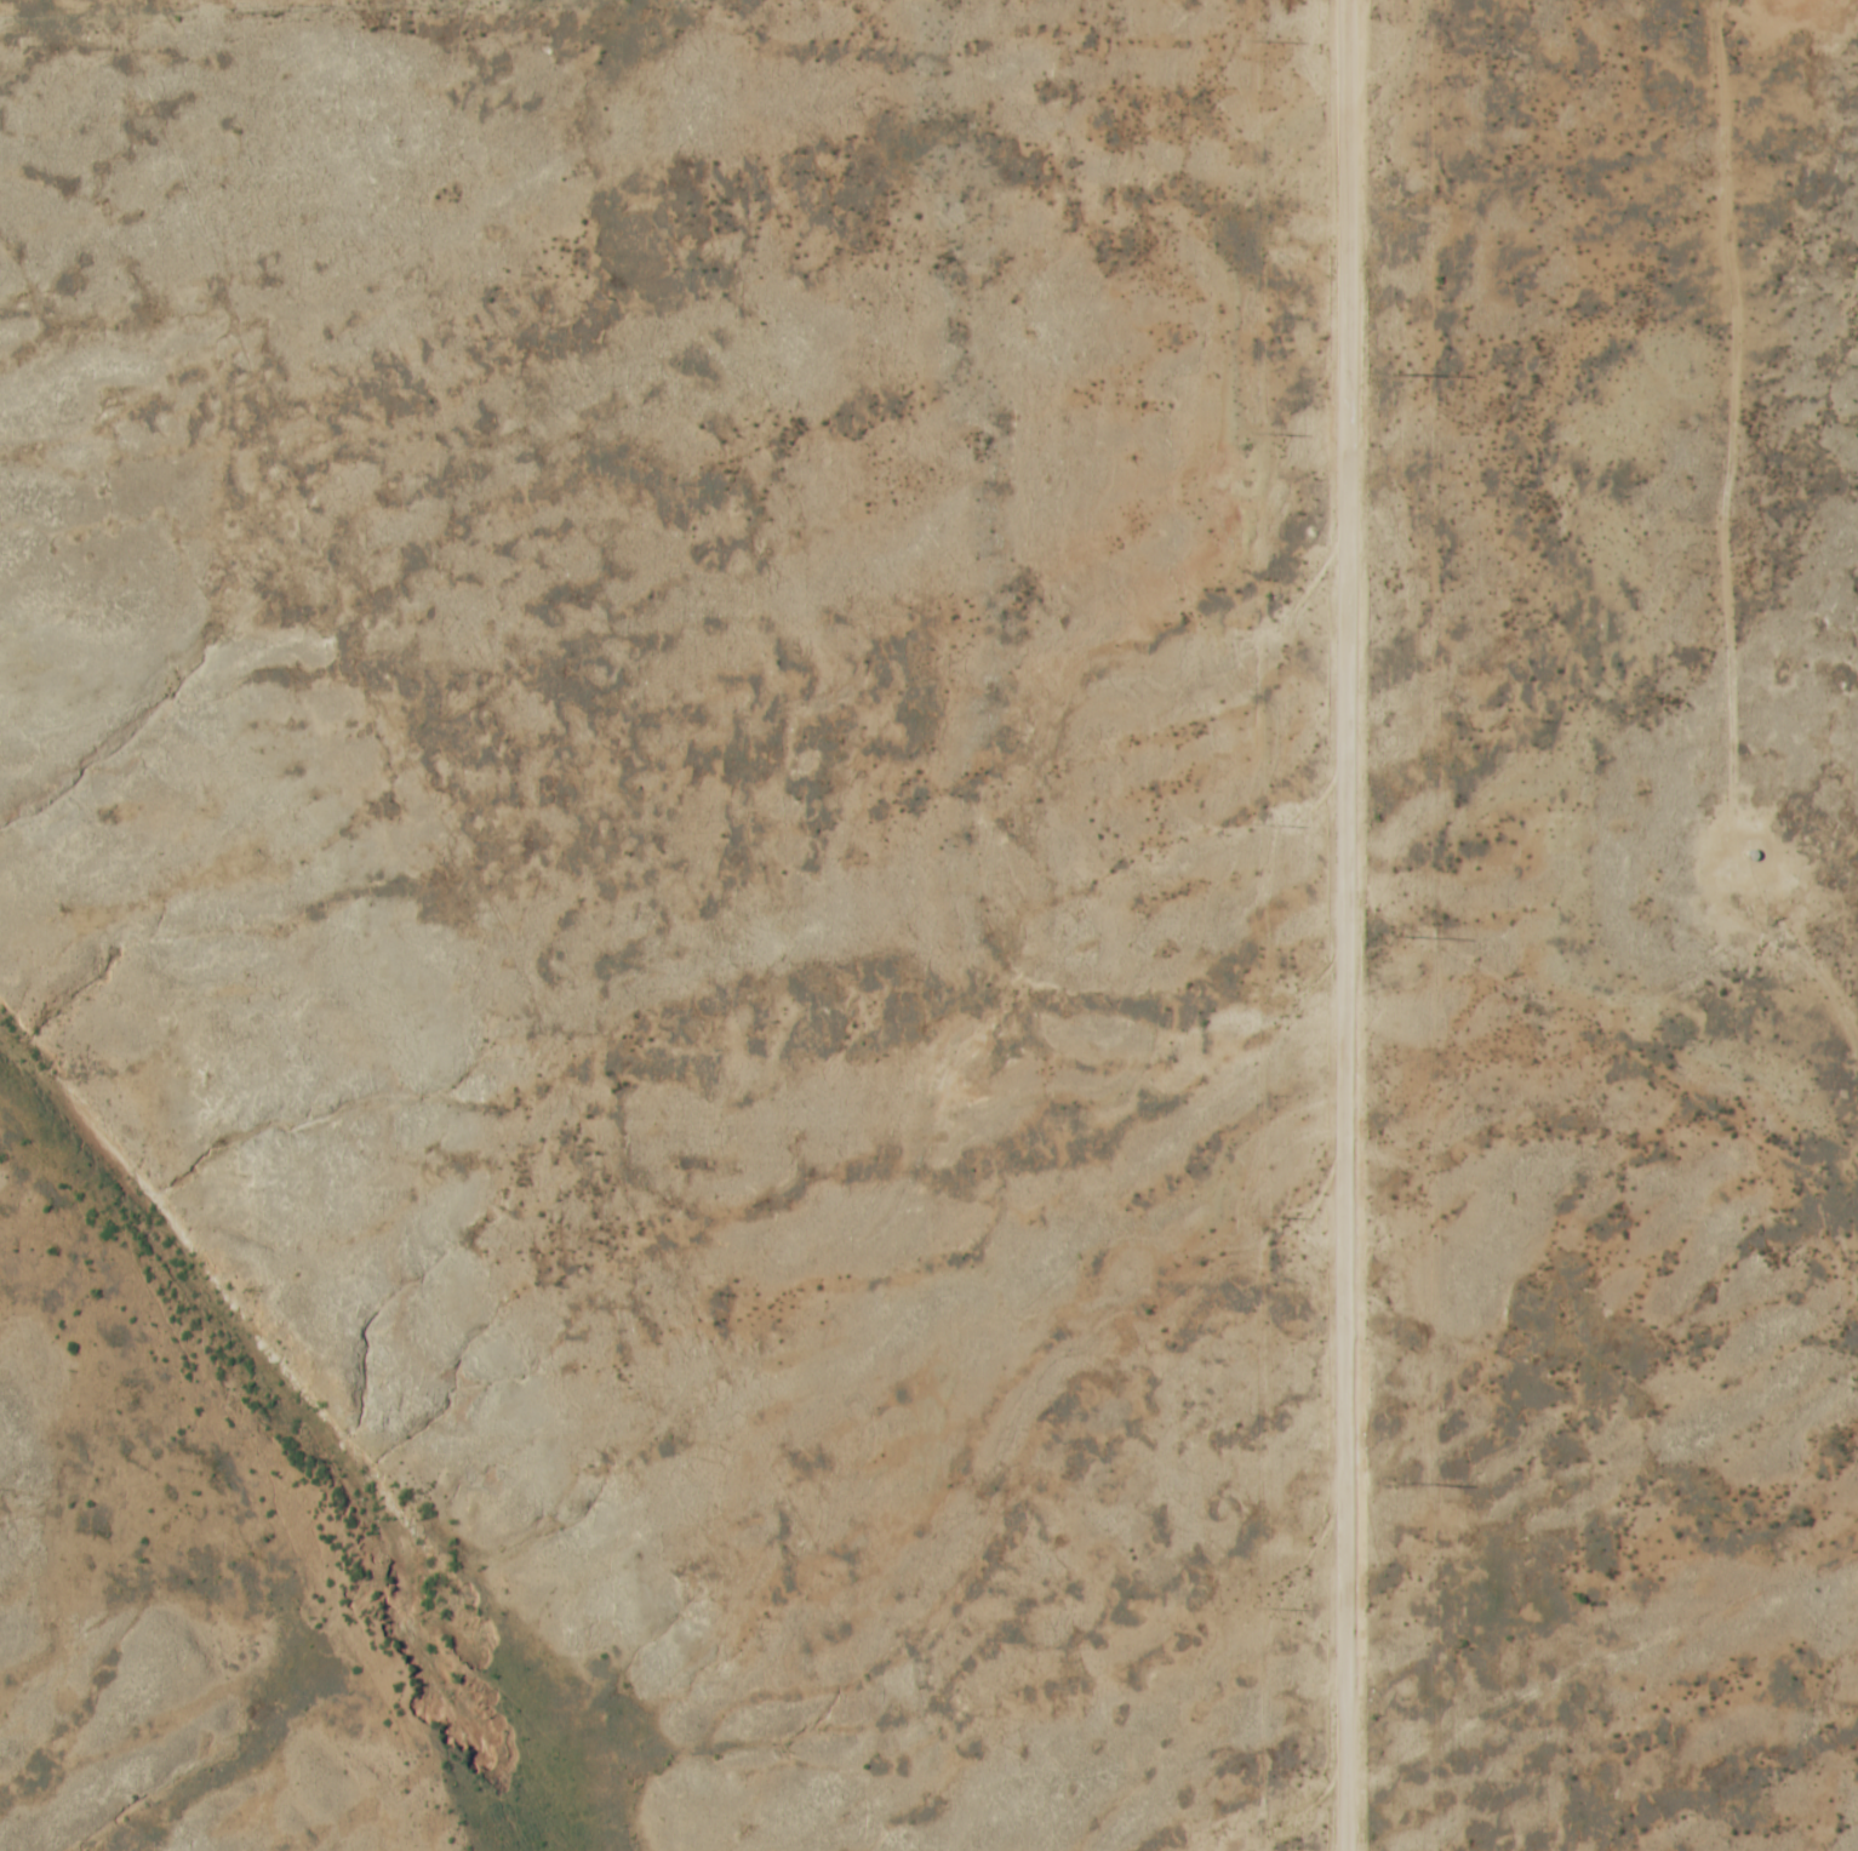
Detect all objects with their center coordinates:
power tower: (1254, 40)
power tower: (1401, 375)
power tower: (1254, 432)
power tower: (1256, 824)
road: (1342, 925)
power tower: (1399, 937)
power tower: (1256, 1215)
power tower: (1402, 1481)
power tower: (1258, 1606)

